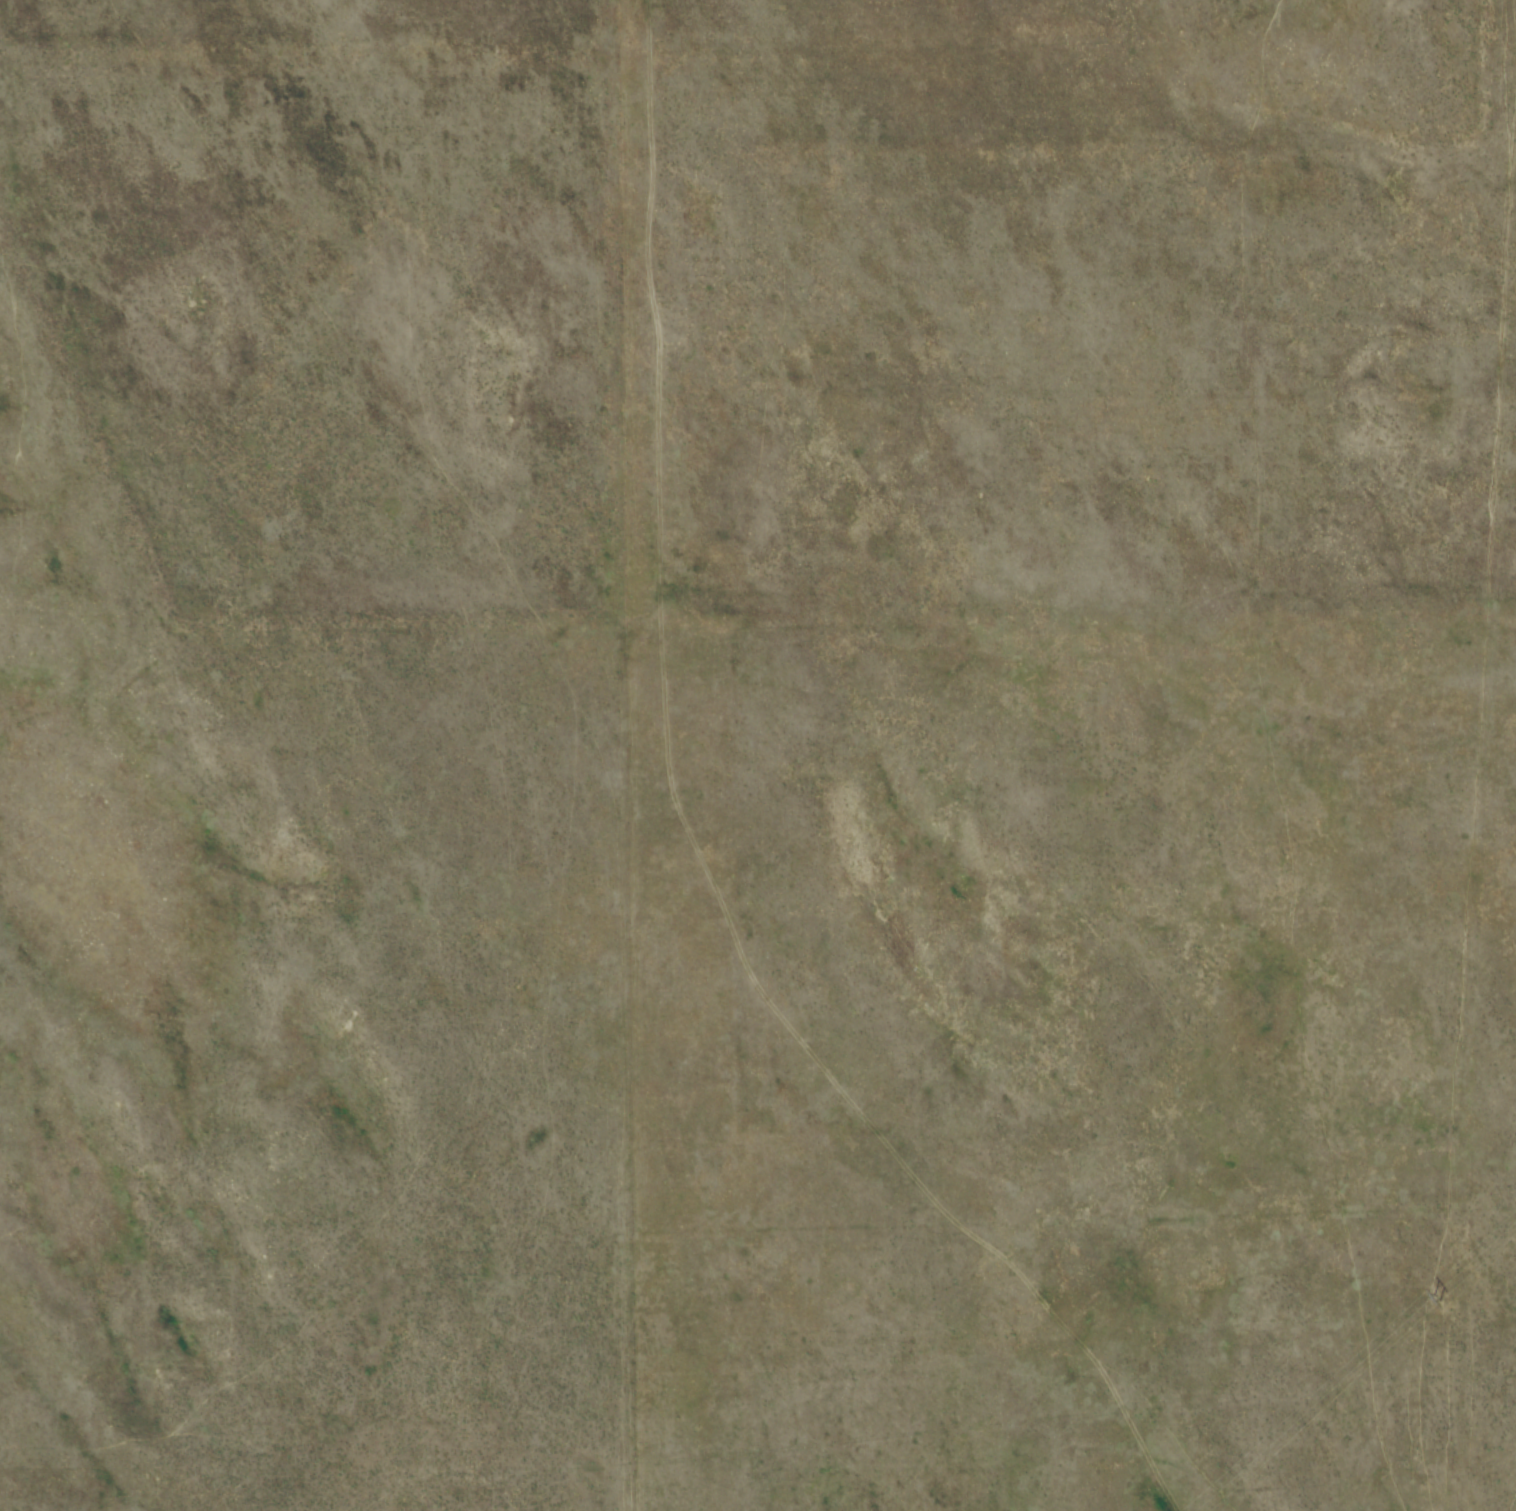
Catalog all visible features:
power tower: (1433, 1296)

